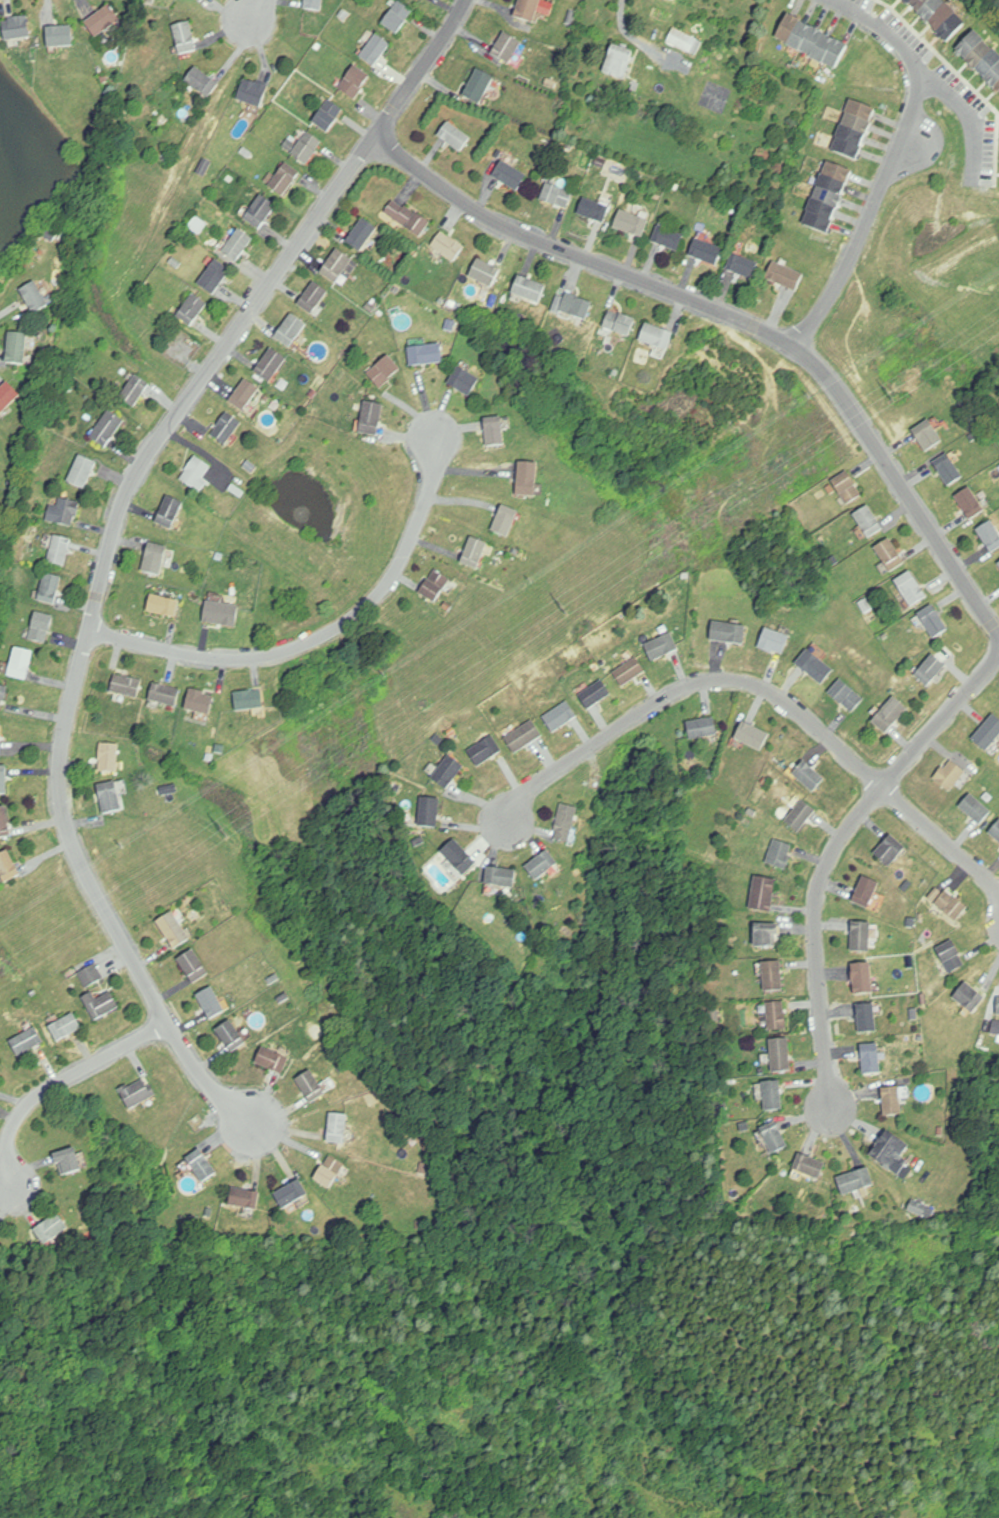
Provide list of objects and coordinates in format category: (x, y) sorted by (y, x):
building: (421, 0)
building: (314, 5)
road: (251, 12)
building: (532, 12)
road: (629, 13)
building: (939, 17)
building: (398, 19)
building: (103, 22)
building: (16, 29)
building: (60, 37)
building: (185, 40)
building: (685, 41)
building: (812, 43)
building: (507, 49)
building: (376, 52)
building: (982, 60)
building: (618, 64)
road: (932, 76)
building: (202, 84)
building: (355, 84)
building: (479, 88)
building: (253, 94)
building: (328, 117)
building: (855, 131)
building: (454, 138)
building: (307, 149)
building: (510, 175)
building: (285, 179)
building: (558, 195)
building: (828, 196)
building: (594, 210)
building: (261, 212)
road: (868, 214)
building: (408, 217)
building: (632, 223)
building: (362, 234)
building: (669, 238)
building: (239, 244)
building: (448, 246)
building: (707, 251)
building: (337, 265)
building: (743, 266)
building: (485, 272)
building: (785, 275)
building: (215, 276)
building: (529, 289)
building: (34, 297)
building: (314, 297)
building: (574, 306)
building: (192, 309)
road: (742, 319)
building: (620, 323)
building: (291, 330)
building: (657, 336)
building: (17, 348)
building: (426, 354)
building: (271, 364)
building: (385, 371)
building: (464, 381)
building: (135, 390)
power tower: (894, 392)
building: (245, 394)
building: (7, 396)
building: (372, 418)
building: (107, 428)
building: (227, 428)
building: (495, 432)
building: (928, 434)
building: (948, 468)
building: (82, 472)
building: (196, 474)
building: (528, 479)
building: (847, 487)
building: (971, 504)
building: (67, 512)
building: (170, 512)
building: (869, 521)
building: (505, 523)
building: (990, 534)
road: (112, 544)
building: (59, 551)
building: (475, 552)
building: (890, 554)
building: (155, 559)
building: (435, 585)
building: (911, 588)
building: (50, 589)
building: (164, 606)
power tower: (567, 607)
building: (221, 613)
building: (934, 620)
building: (41, 627)
building: (728, 633)
road: (325, 634)
building: (774, 640)
building: (662, 647)
building: (20, 664)
building: (815, 666)
building: (931, 670)
building: (631, 672)
road: (690, 683)
building: (126, 685)
building: (164, 694)
building: (595, 694)
building: (3, 696)
building: (847, 696)
building: (249, 700)
building: (200, 701)
building: (560, 715)
building: (890, 715)
building: (702, 728)
building: (988, 732)
building: (523, 736)
building: (752, 736)
building: (0, 745)
building: (485, 750)
building: (109, 757)
building: (977, 764)
building: (447, 772)
building: (710, 775)
building: (809, 775)
building: (950, 775)
building: (3, 780)
building: (110, 797)
building: (976, 808)
building: (430, 813)
building: (801, 815)
building: (4, 823)
building: (566, 823)
building: (996, 830)
power tower: (227, 831)
road: (942, 837)
building: (891, 849)
building: (779, 855)
road: (831, 855)
building: (459, 856)
building: (542, 865)
building: (8, 867)
building: (501, 877)
building: (866, 891)
building: (763, 893)
building: (952, 905)
building: (173, 930)
building: (766, 934)
building: (862, 936)
building: (951, 956)
building: (193, 966)
building: (91, 974)
building: (773, 975)
building: (863, 979)
building: (971, 997)
building: (108, 1000)
building: (998, 1008)
building: (777, 1015)
building: (867, 1018)
building: (73, 1025)
building: (997, 1027)
building: (30, 1036)
building: (231, 1036)
building: (780, 1055)
building: (871, 1058)
building: (273, 1061)
road: (55, 1083)
building: (311, 1086)
building: (140, 1091)
building: (773, 1095)
building: (892, 1101)
building: (337, 1129)
building: (775, 1137)
building: (886, 1148)
building: (72, 1161)
building: (201, 1165)
building: (809, 1166)
building: (329, 1171)
building: (856, 1180)
building: (291, 1194)
building: (246, 1196)
building: (918, 1208)
building: (58, 1235)

